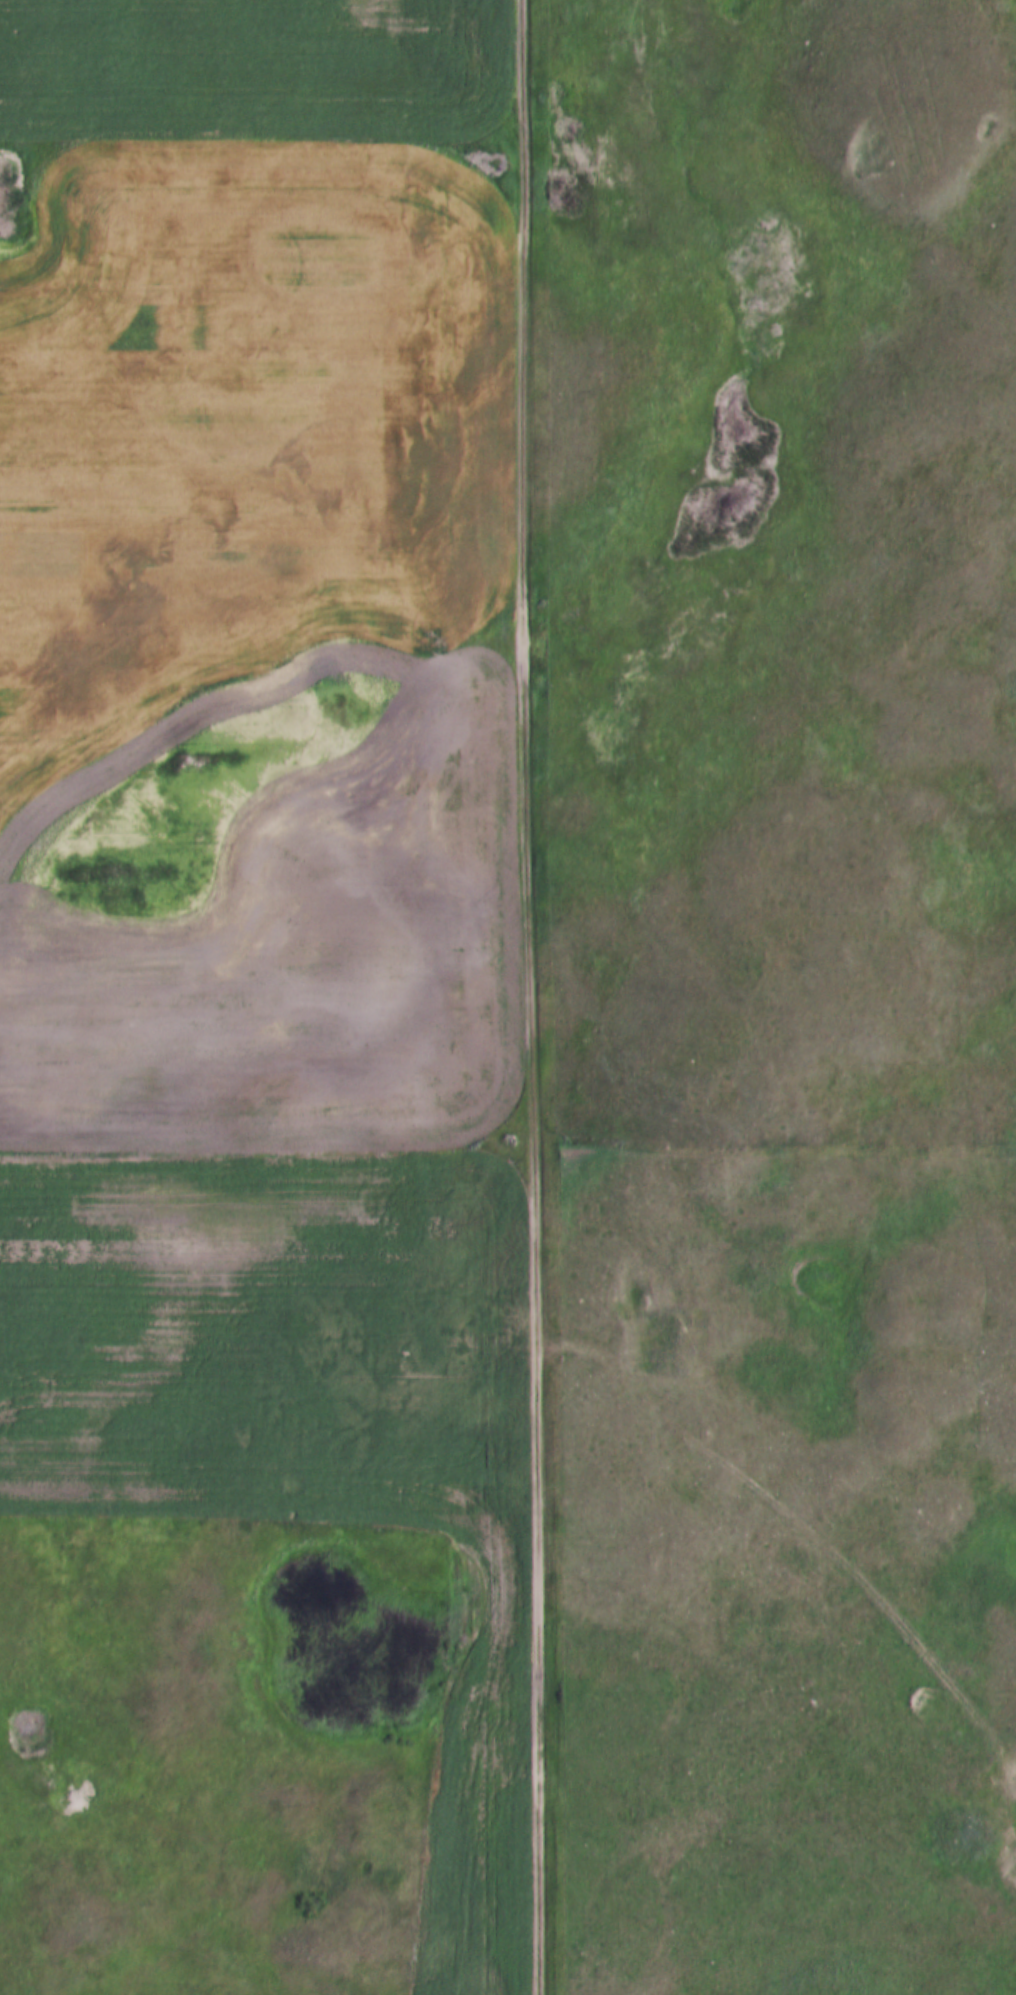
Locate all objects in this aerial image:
road: (530, 997)
road: (800, 1519)
quarry: (971, 1808)

